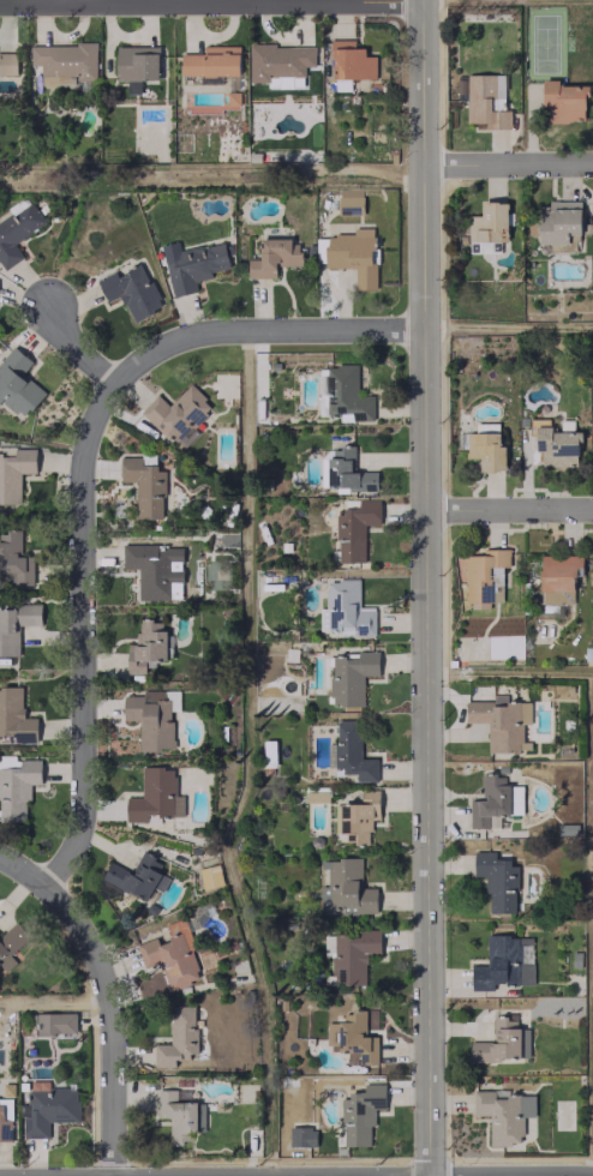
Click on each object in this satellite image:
road: (211, 0)
building: (351, 60)
building: (211, 61)
building: (280, 61)
building: (7, 62)
building: (136, 65)
building: (486, 101)
building: (563, 102)
road: (508, 164)
building: (349, 197)
building: (349, 210)
building: (489, 222)
building: (558, 223)
building: (17, 232)
building: (487, 246)
building: (353, 254)
building: (274, 257)
building: (191, 264)
building: (131, 290)
road: (259, 328)
building: (17, 383)
building: (346, 392)
building: (179, 414)
building: (557, 444)
building: (485, 450)
building: (347, 472)
building: (144, 485)
road: (508, 510)
building: (354, 529)
building: (14, 558)
building: (151, 570)
building: (484, 576)
building: (558, 577)
road: (79, 582)
road: (424, 587)
building: (346, 608)
building: (14, 625)
building: (145, 647)
building: (351, 676)
building: (14, 718)
building: (501, 721)
building: (352, 751)
building: (269, 752)
building: (16, 785)
building: (155, 796)
building: (490, 802)
building: (357, 815)
road: (20, 871)
building: (136, 874)
building: (210, 876)
building: (497, 881)
building: (347, 887)
building: (10, 943)
building: (328, 946)
building: (172, 955)
building: (352, 955)
building: (503, 962)
road: (110, 1018)
building: (55, 1022)
building: (352, 1038)
building: (176, 1039)
building: (502, 1042)
building: (47, 1108)
building: (360, 1112)
building: (504, 1114)
building: (176, 1115)
building: (301, 1135)

